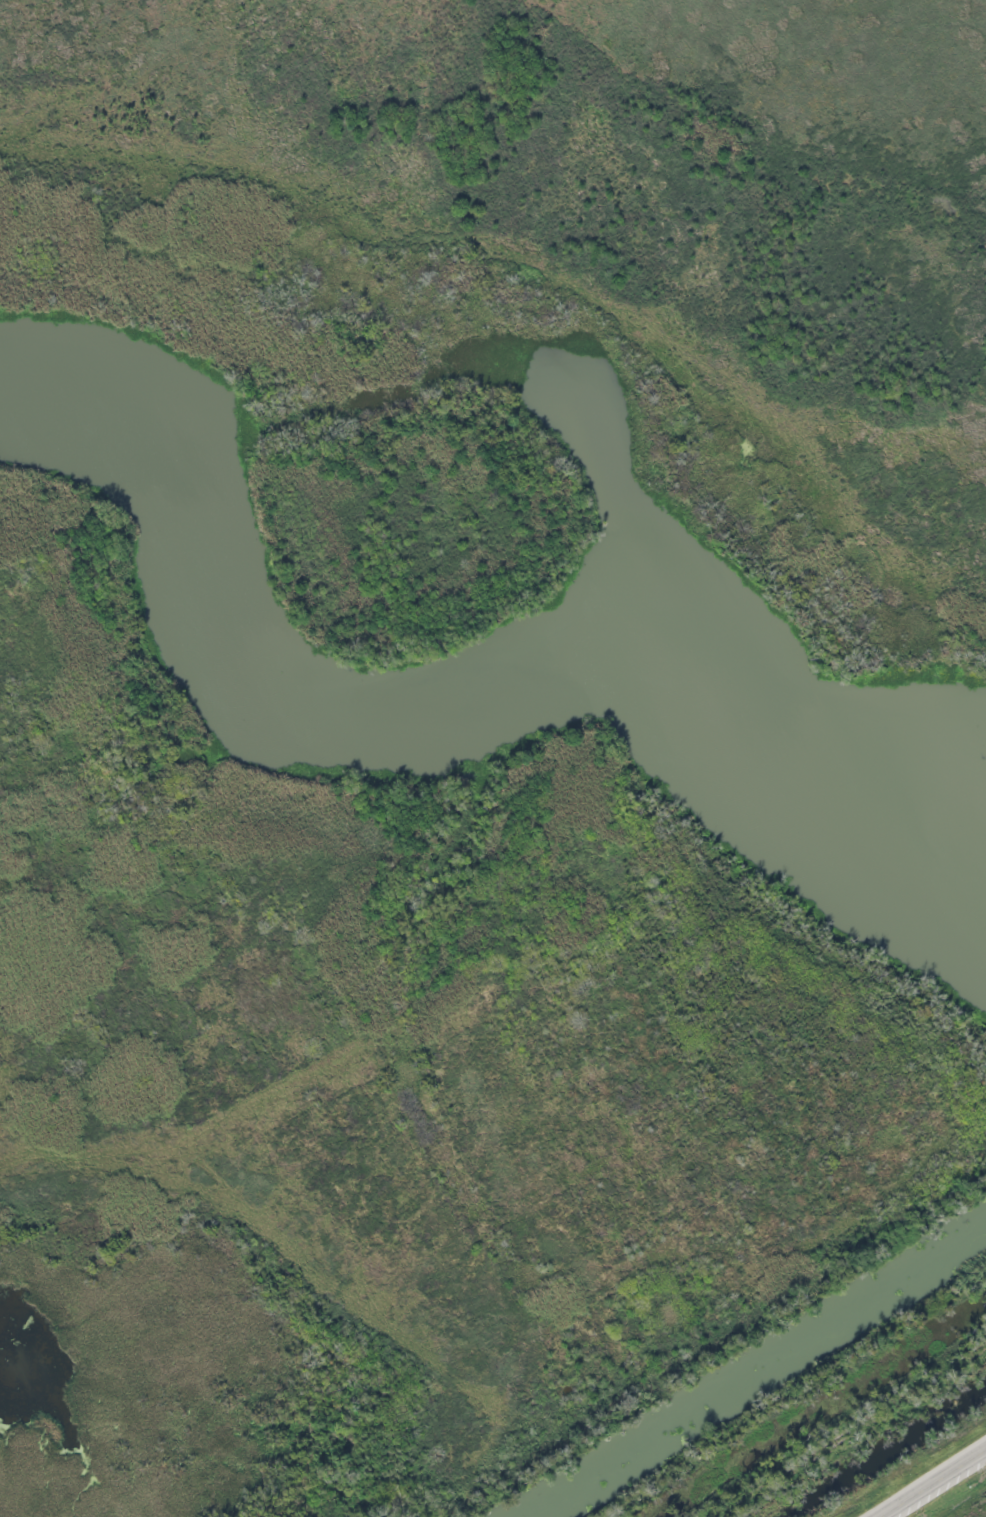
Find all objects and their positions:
road: (933, 1483)

